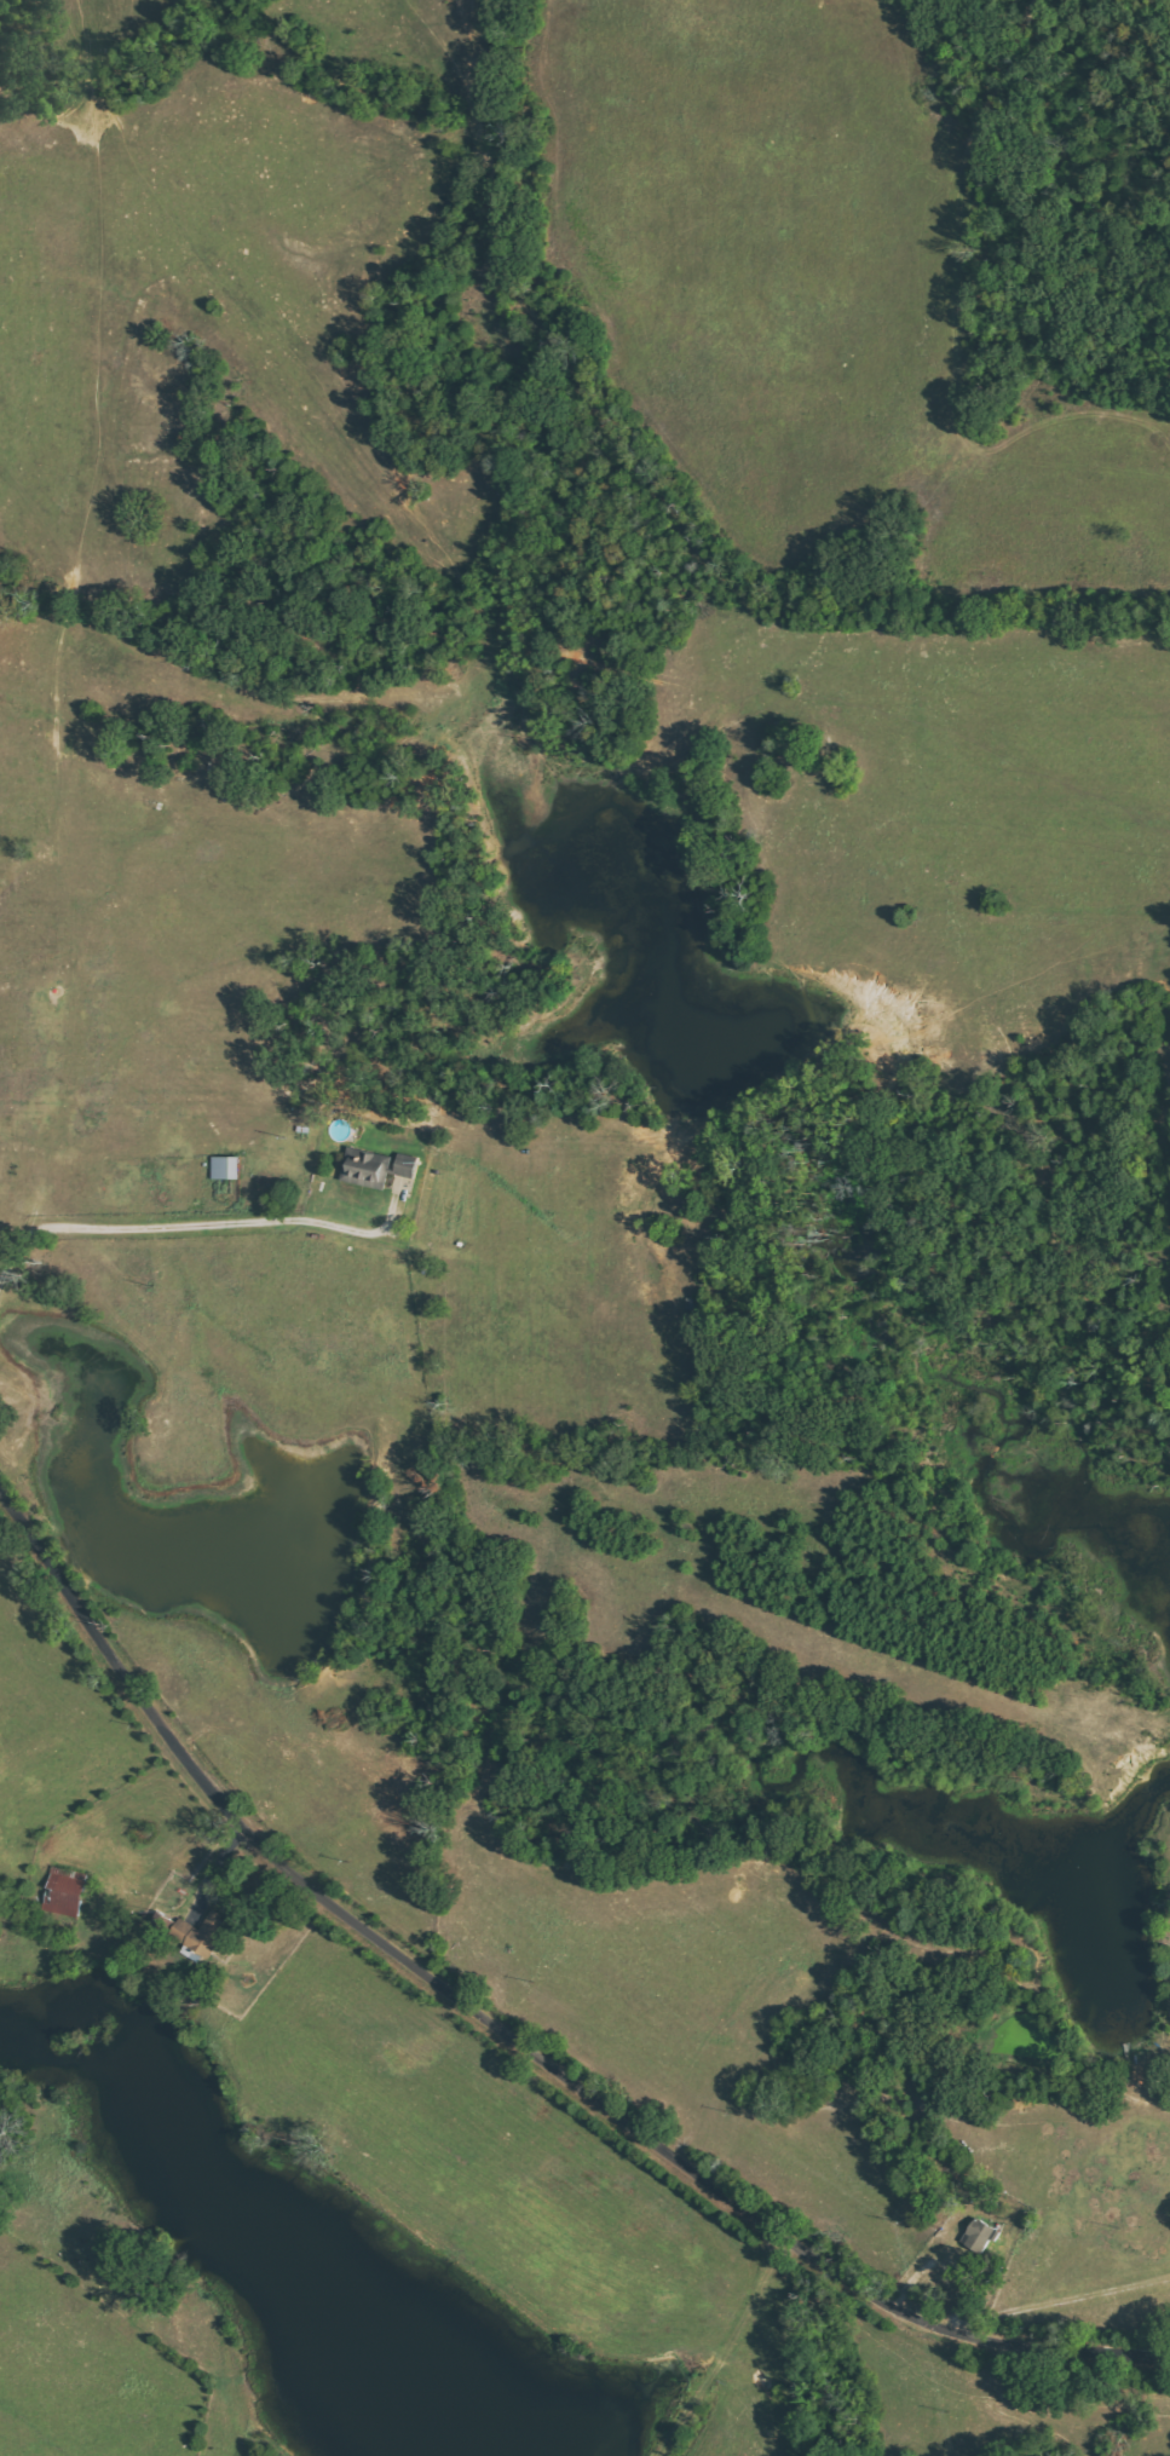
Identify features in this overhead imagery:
building: (405, 1165)
building: (224, 1168)
building: (363, 1168)
road: (181, 1223)
road: (211, 1872)
building: (64, 1891)
building: (161, 1922)
building: (200, 1933)
road: (498, 2049)
building: (980, 2236)
road: (1061, 2295)

